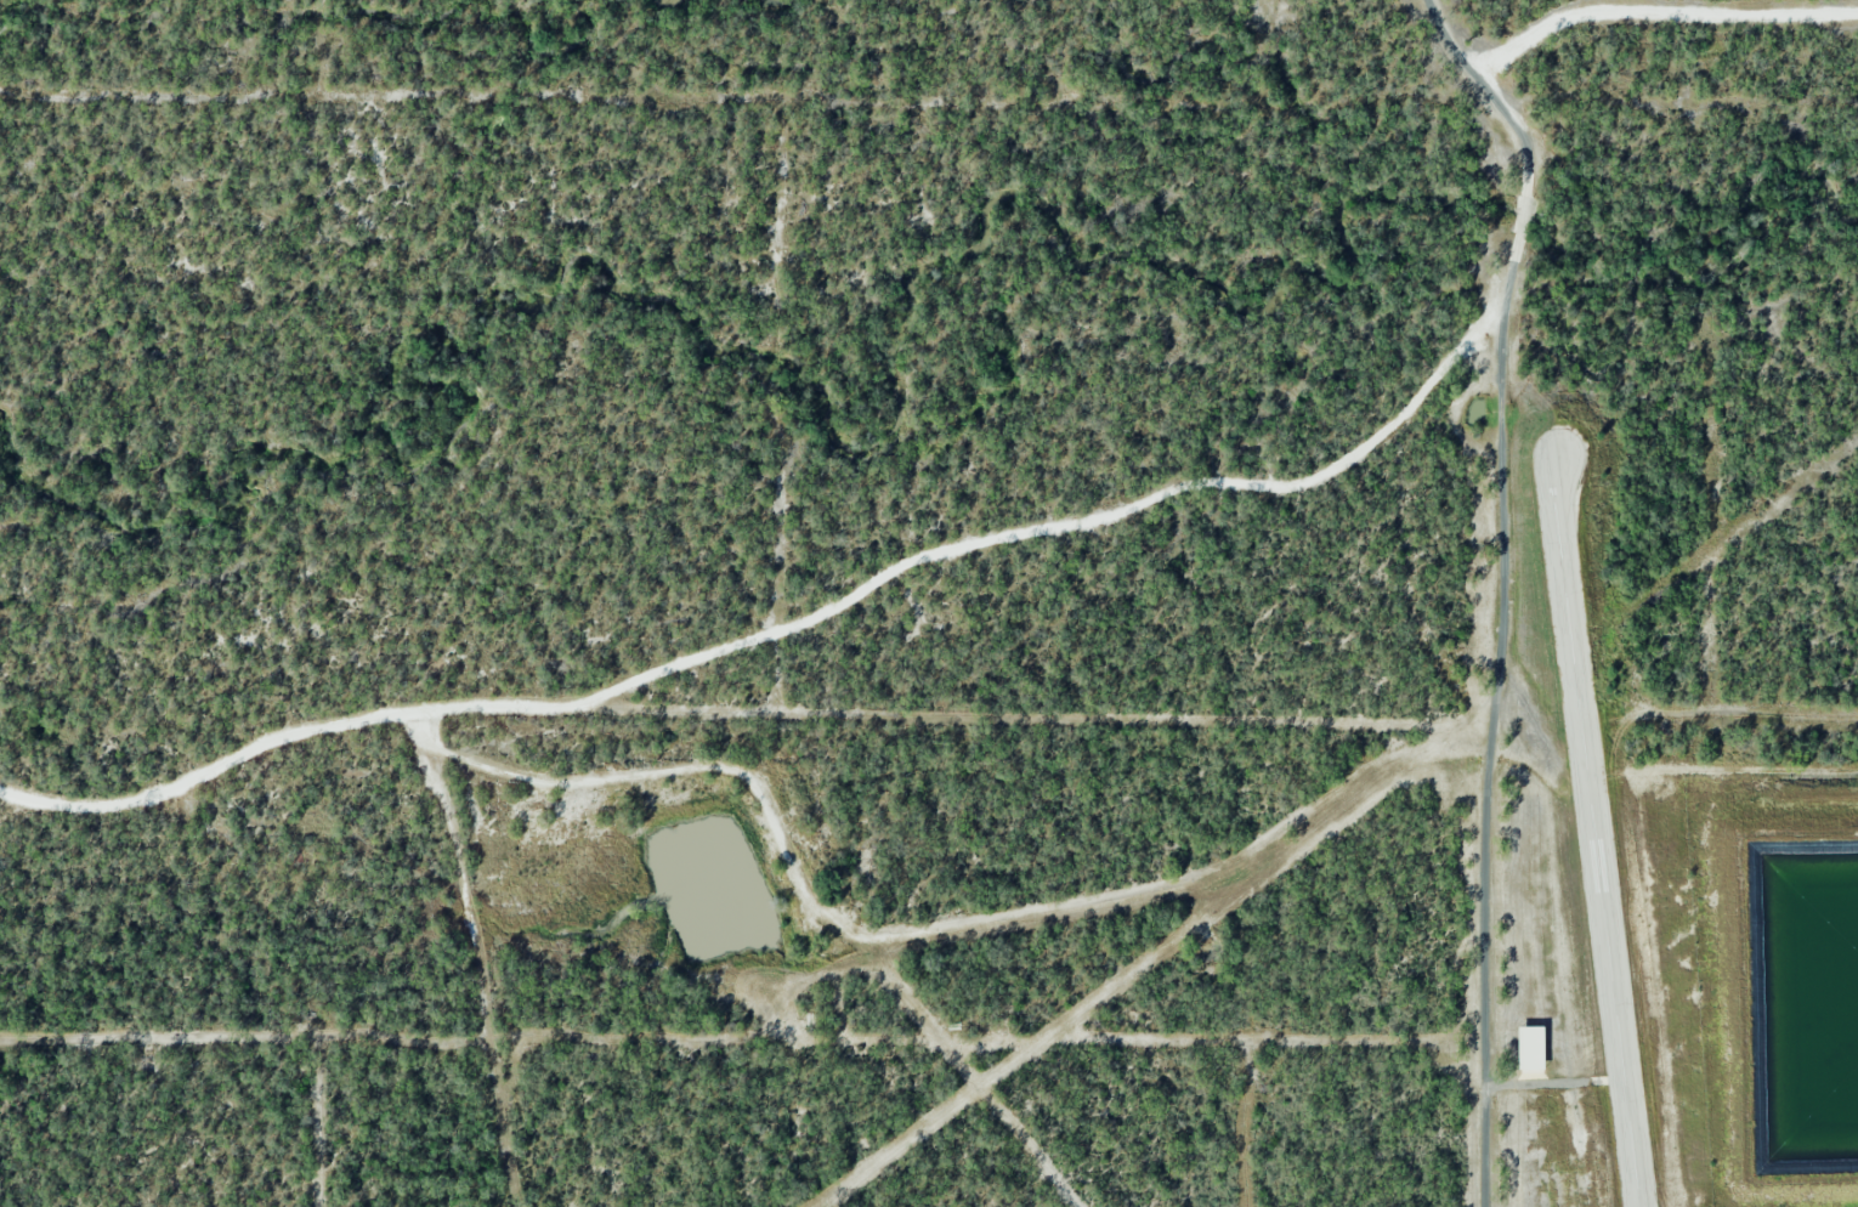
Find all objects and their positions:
road: (1503, 586)
road: (784, 633)
airport runway: (1597, 834)
building: (1533, 1047)

